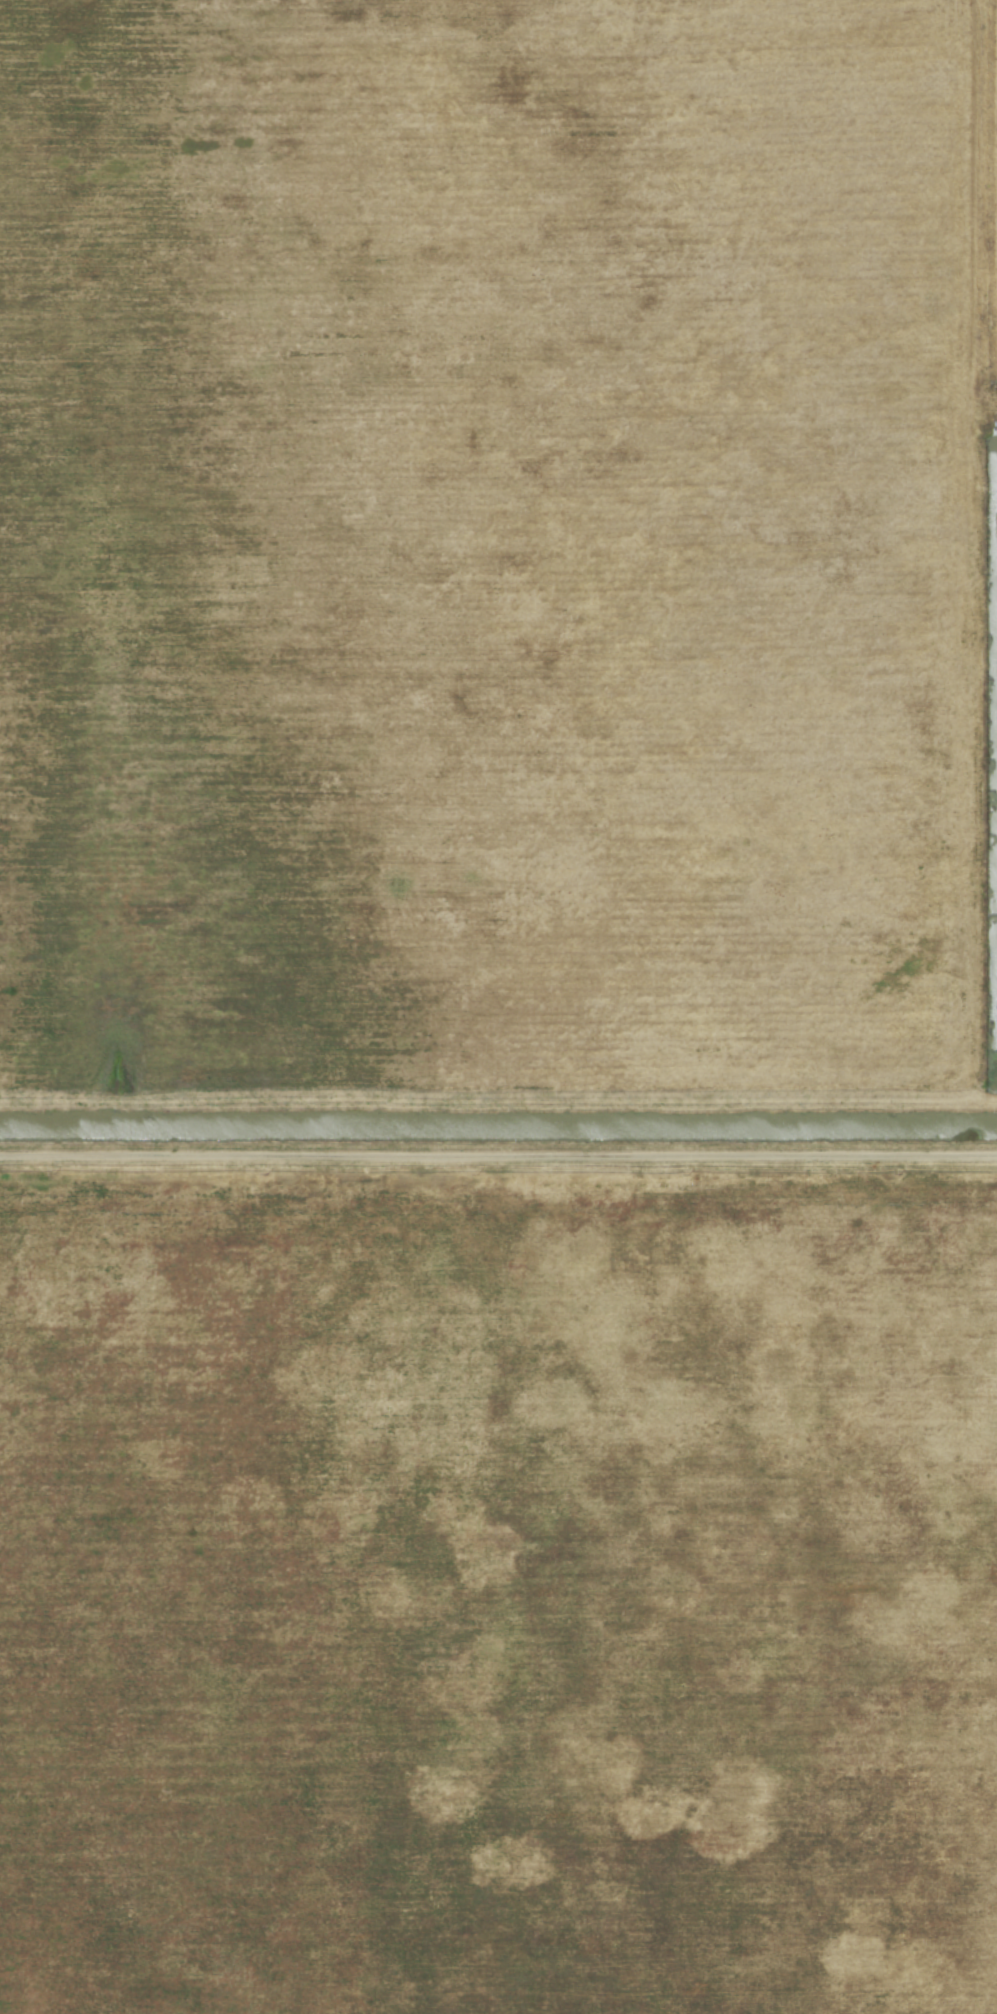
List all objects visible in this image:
crop: (489, 548)

